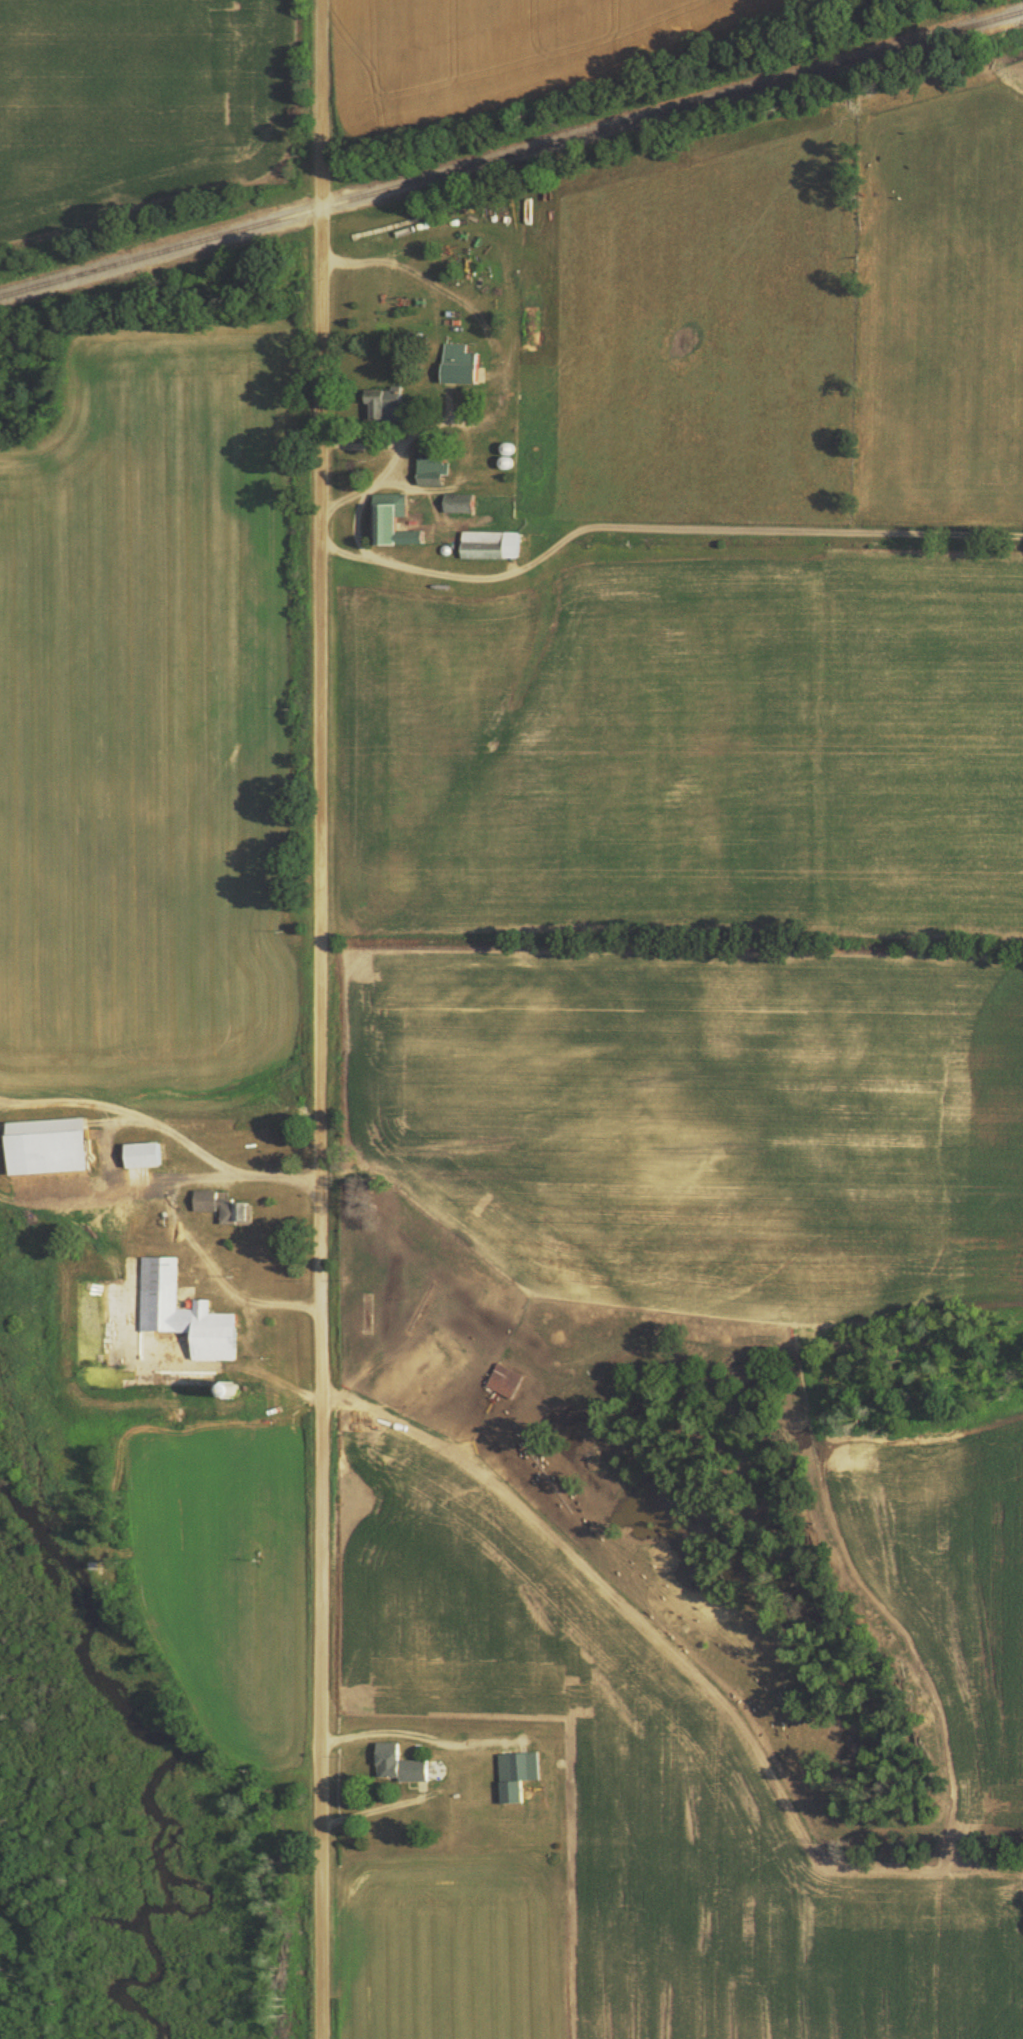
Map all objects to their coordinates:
railway: (511, 154)
building: (456, 363)
building: (428, 465)
building: (456, 502)
building: (489, 544)
road: (319, 1019)
building: (44, 1143)
building: (140, 1153)
building: (203, 1198)
building: (232, 1210)
building: (181, 1310)
building: (501, 1379)
building: (396, 1762)
building: (514, 1772)

